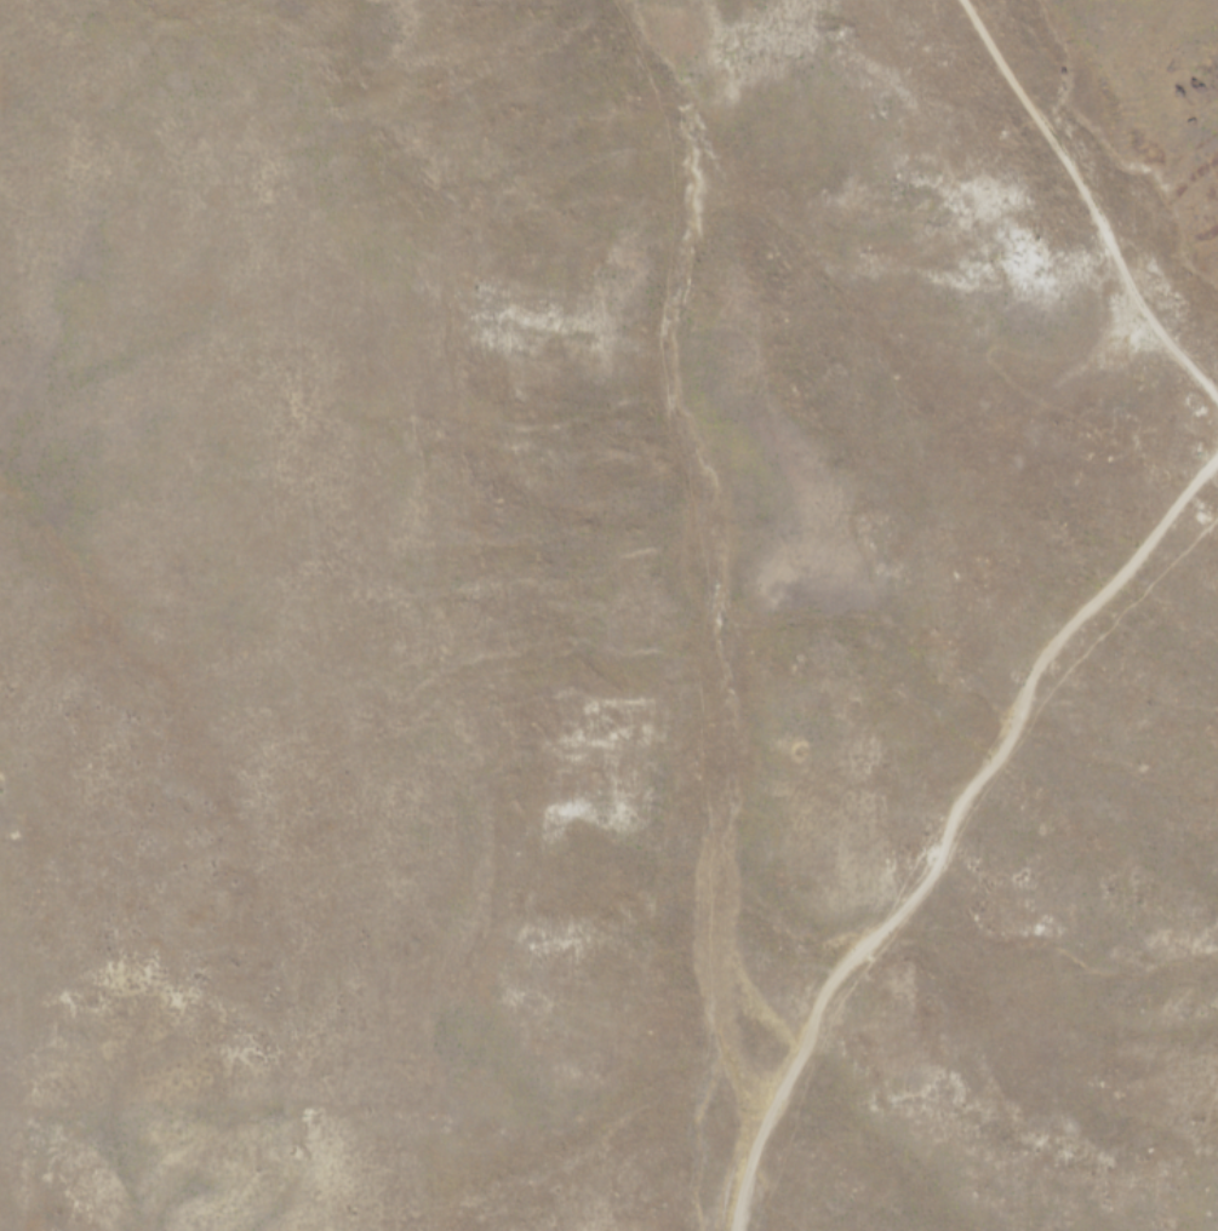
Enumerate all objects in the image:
road: (1085, 207)
road: (950, 832)

